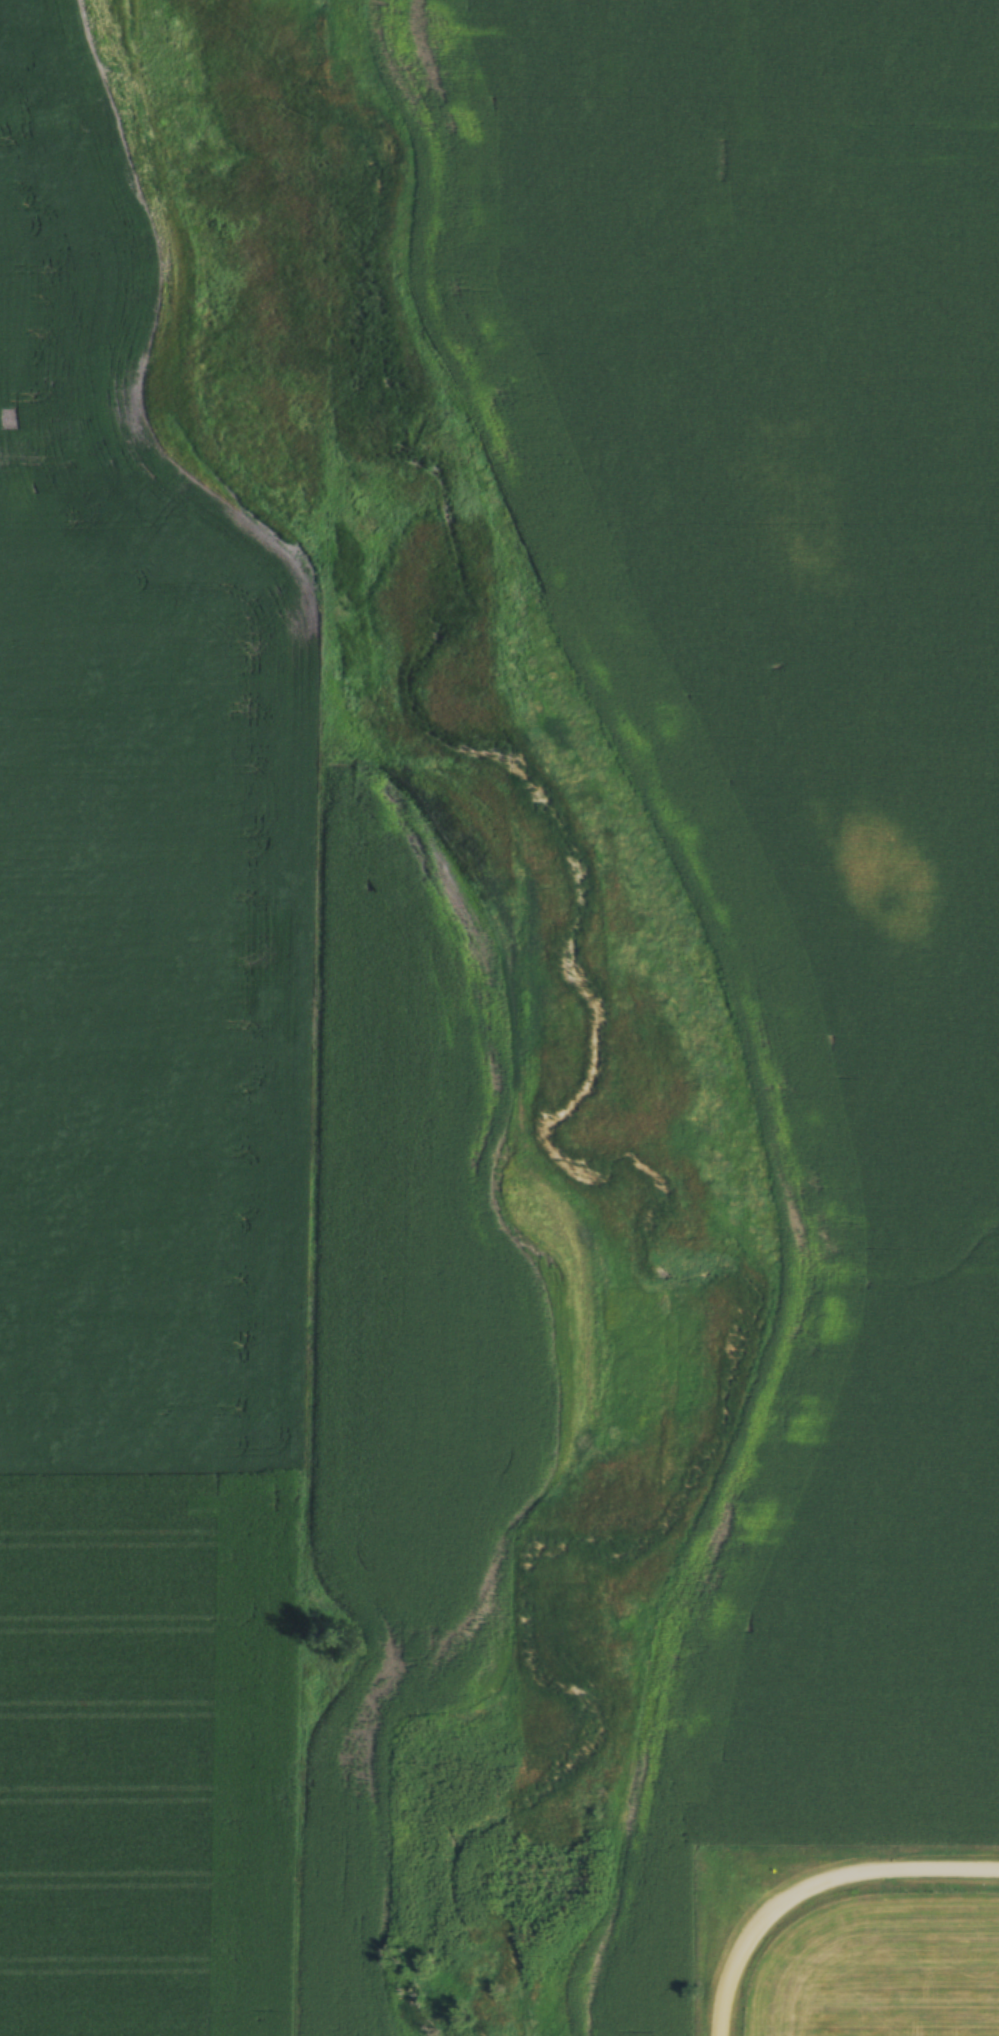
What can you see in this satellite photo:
road: (822, 1880)
road: (722, 2026)

